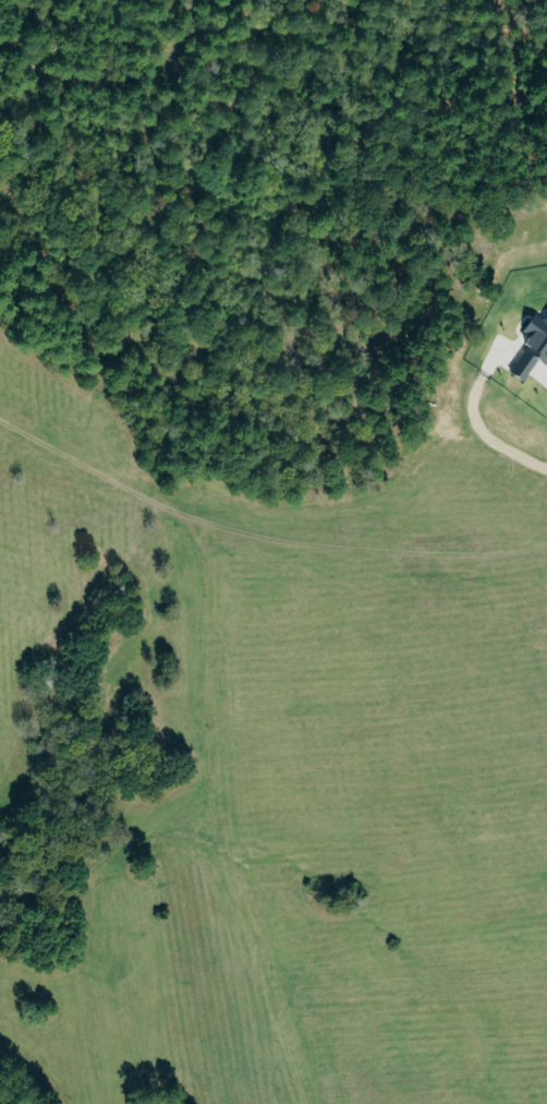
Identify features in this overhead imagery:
building: (532, 348)

